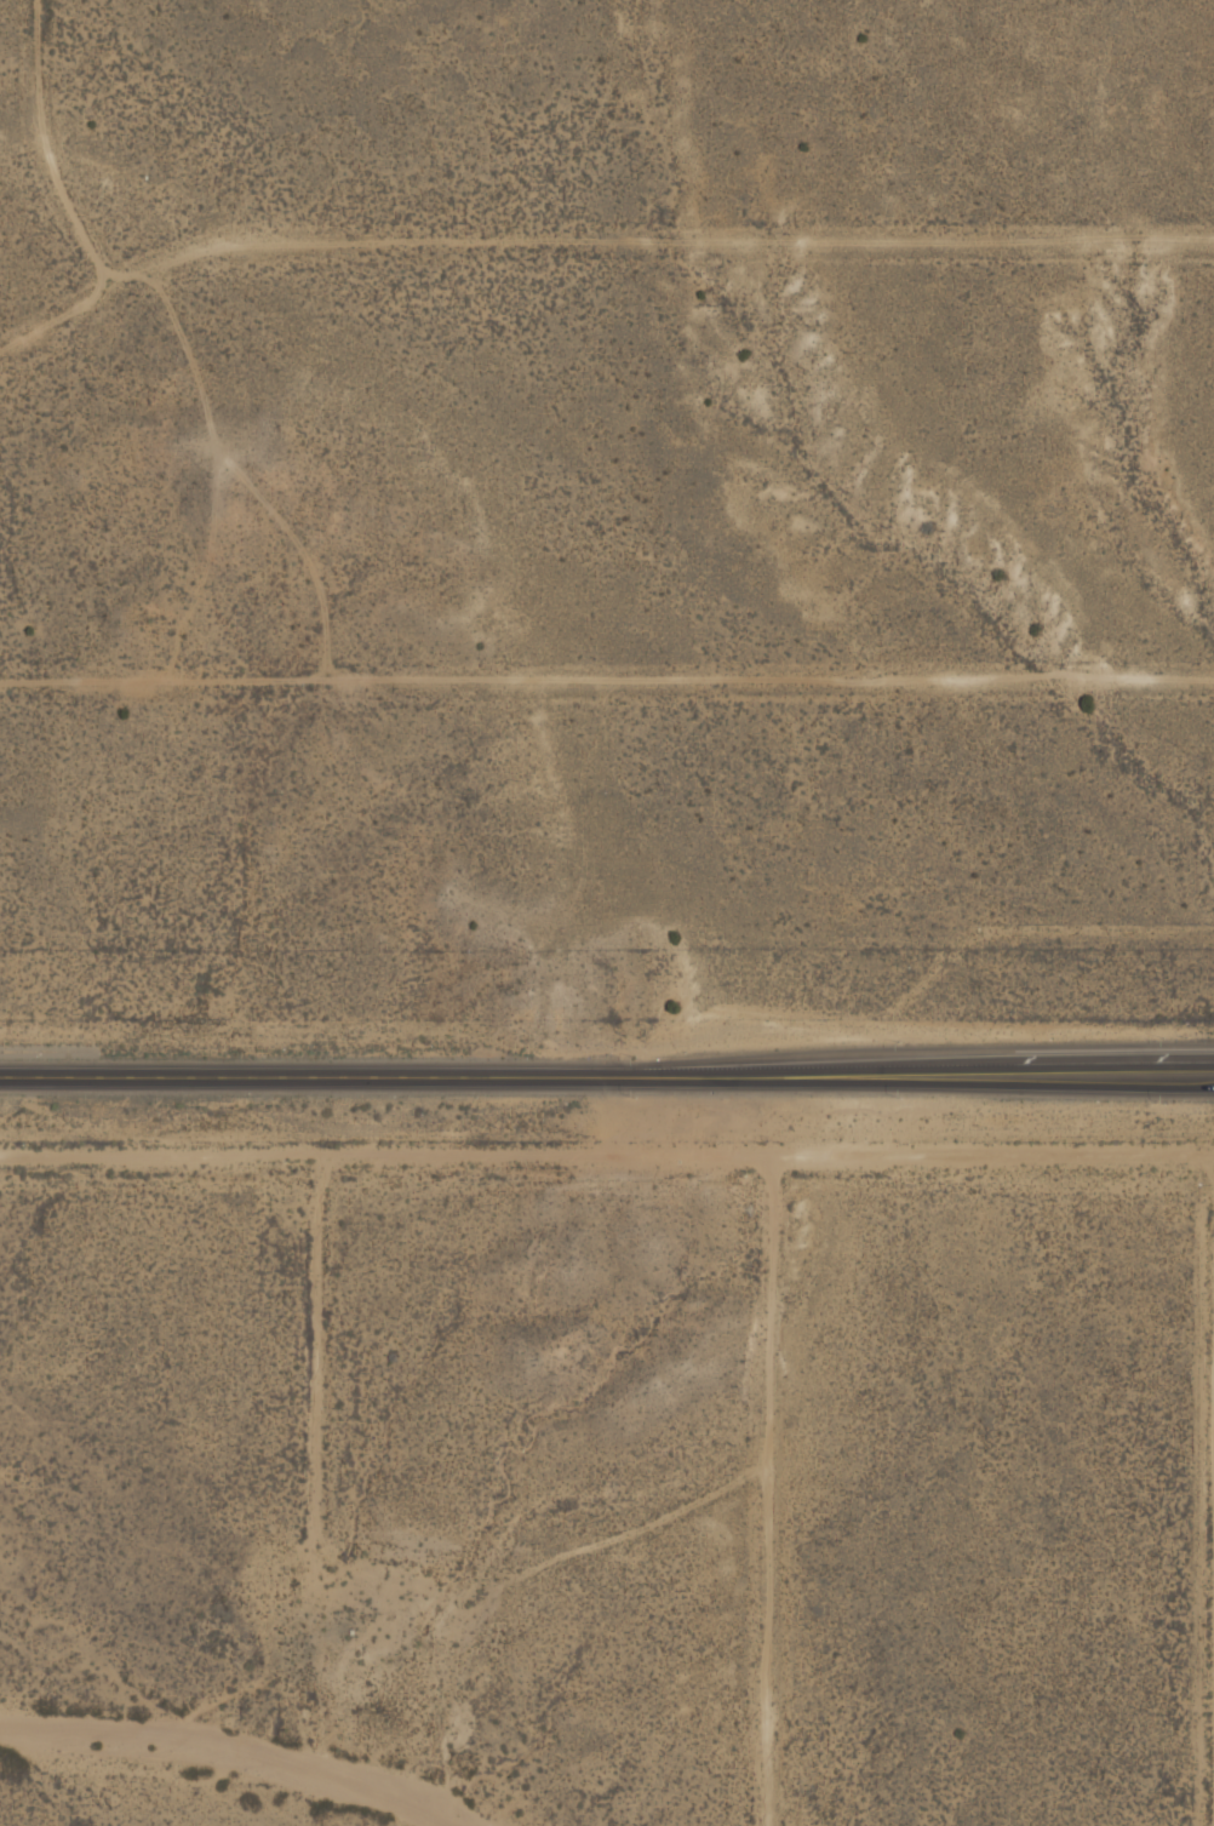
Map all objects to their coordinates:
road: (46, 148)
road: (595, 244)
road: (607, 687)
road: (607, 1065)

